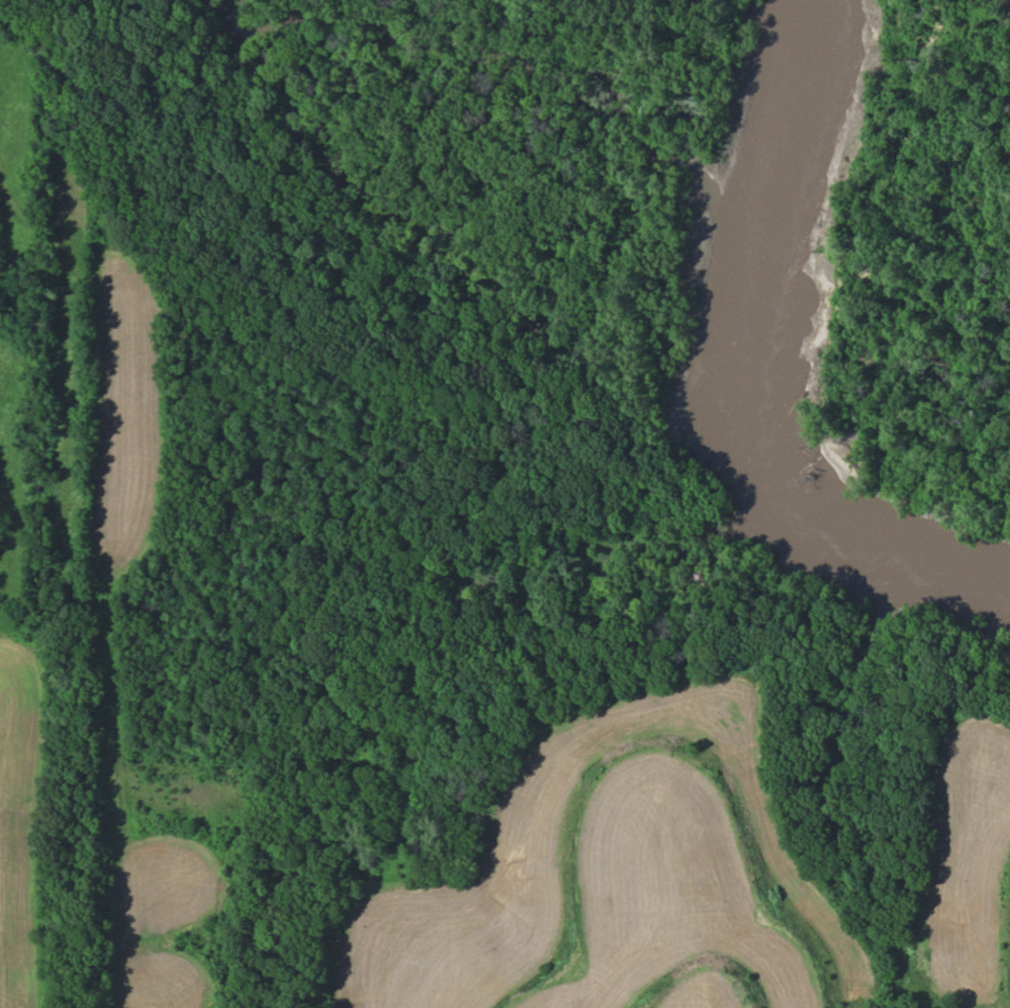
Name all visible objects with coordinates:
river: (704, 382)

